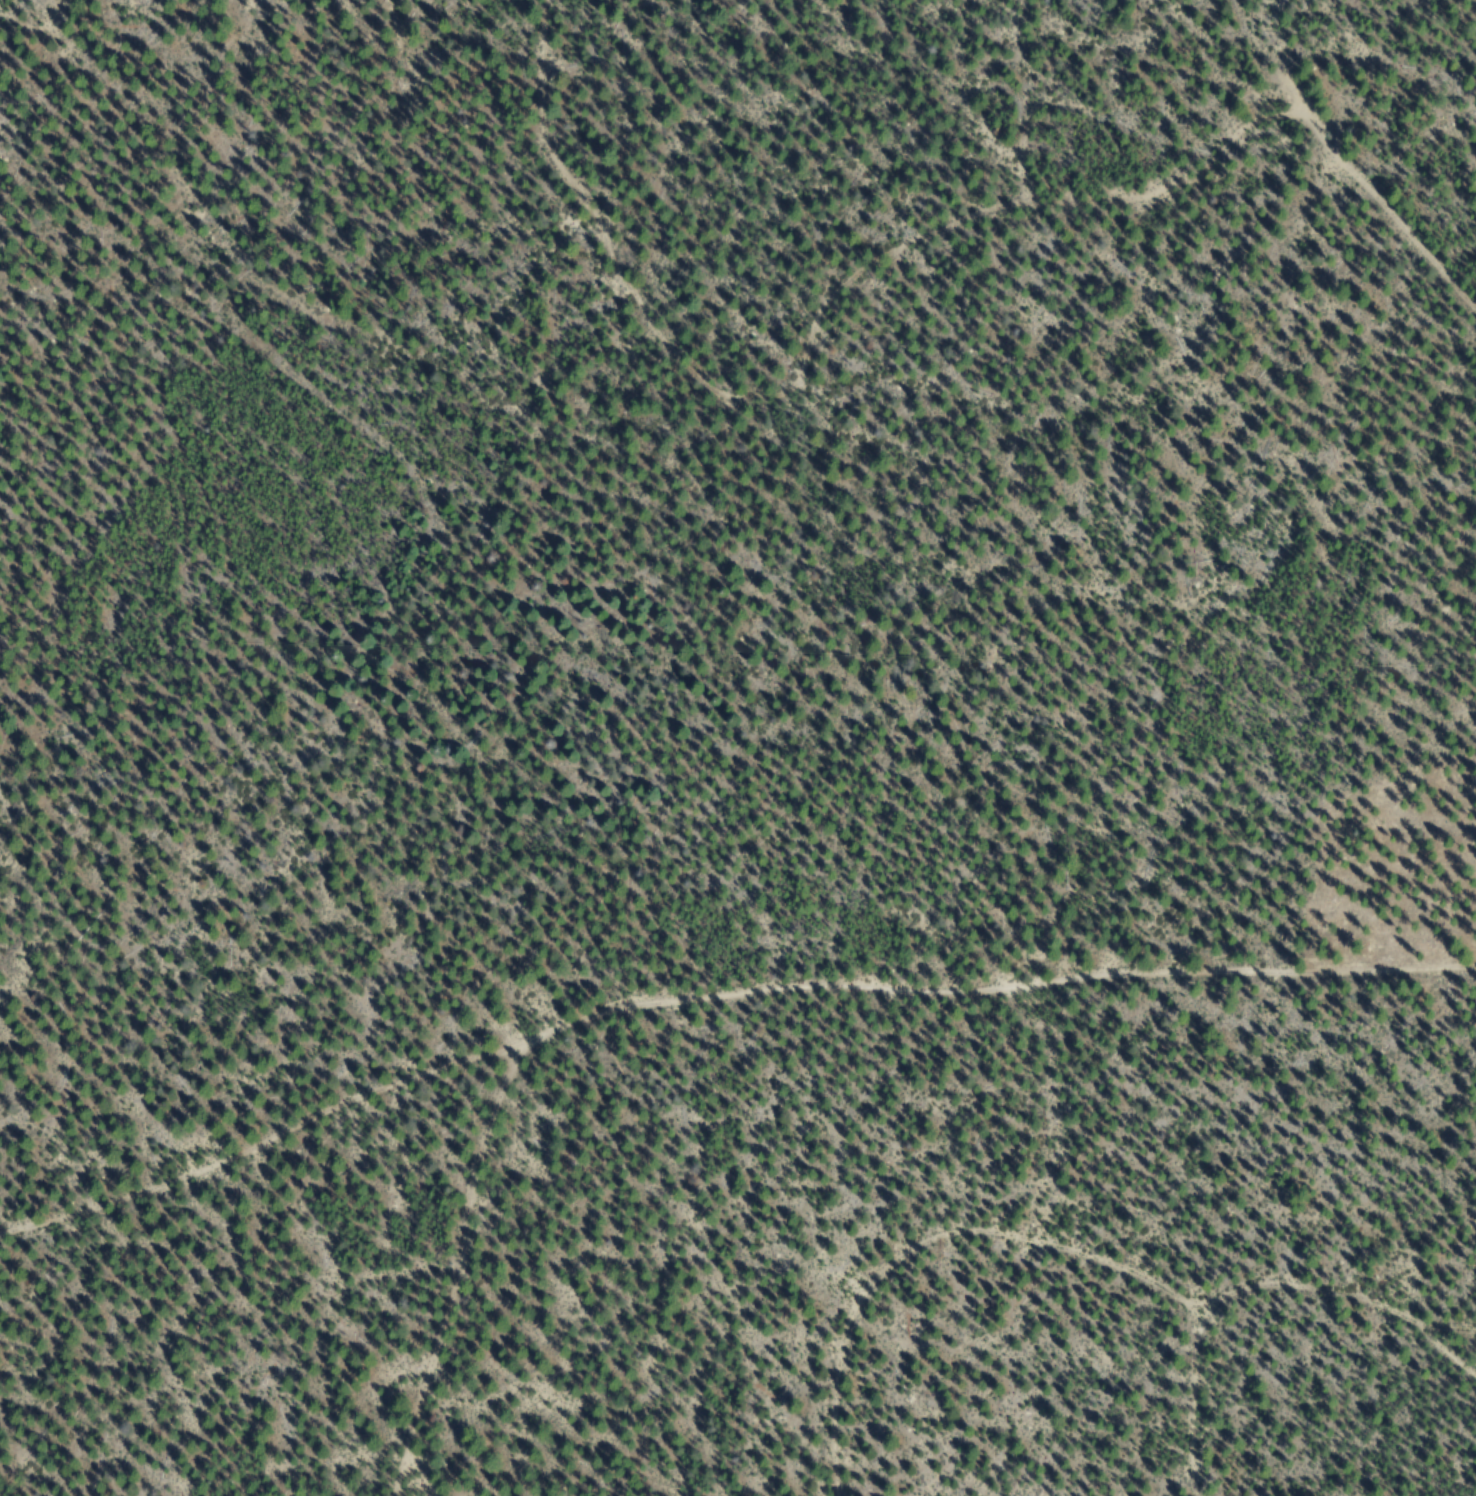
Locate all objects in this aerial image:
road: (222, 18)
road: (1392, 236)
road: (713, 933)
road: (527, 1232)
road: (1098, 1280)
road: (1230, 1421)

